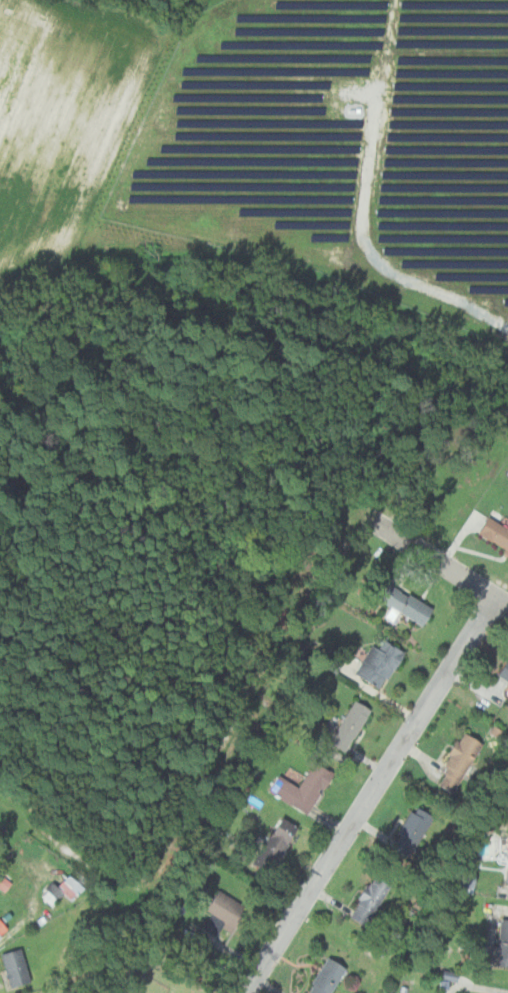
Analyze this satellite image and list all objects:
building: (497, 532)
building: (507, 553)
road: (440, 565)
building: (409, 606)
building: (382, 662)
building: (504, 672)
building: (353, 724)
building: (459, 761)
building: (305, 787)
road: (369, 796)
building: (412, 830)
building: (279, 844)
building: (507, 874)
building: (64, 889)
building: (370, 899)
building: (224, 912)
building: (4, 928)
building: (503, 943)
building: (18, 967)
building: (329, 976)

